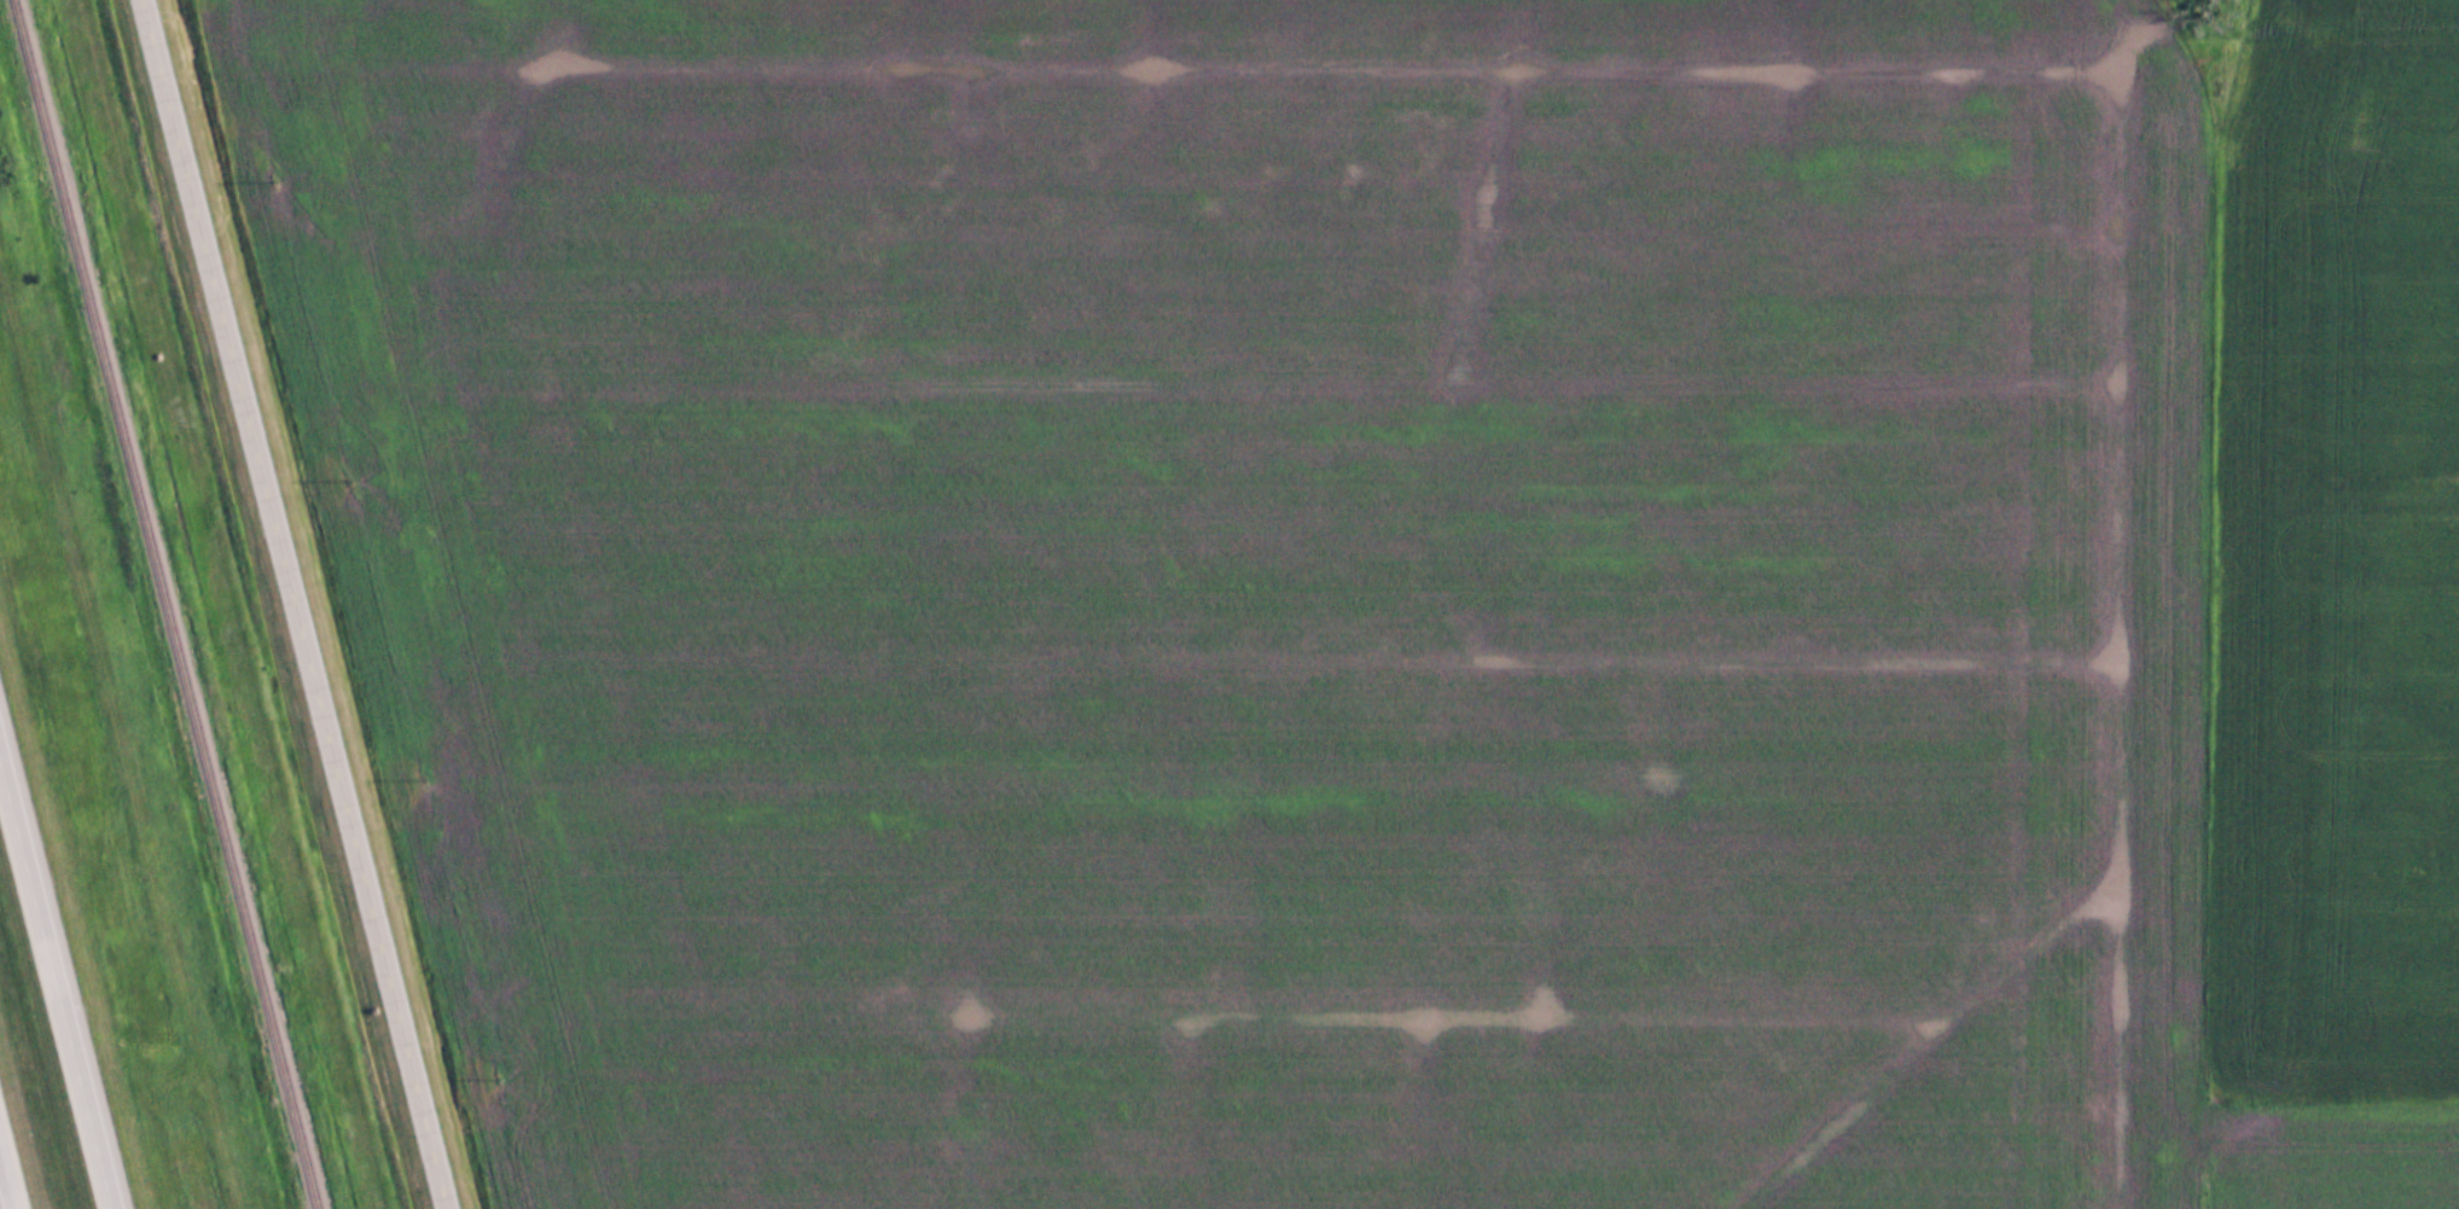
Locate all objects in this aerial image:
crop: (2336, 557)
crop: (1292, 594)
railway: (167, 604)
road: (297, 604)
road: (57, 981)
road: (6, 1184)

